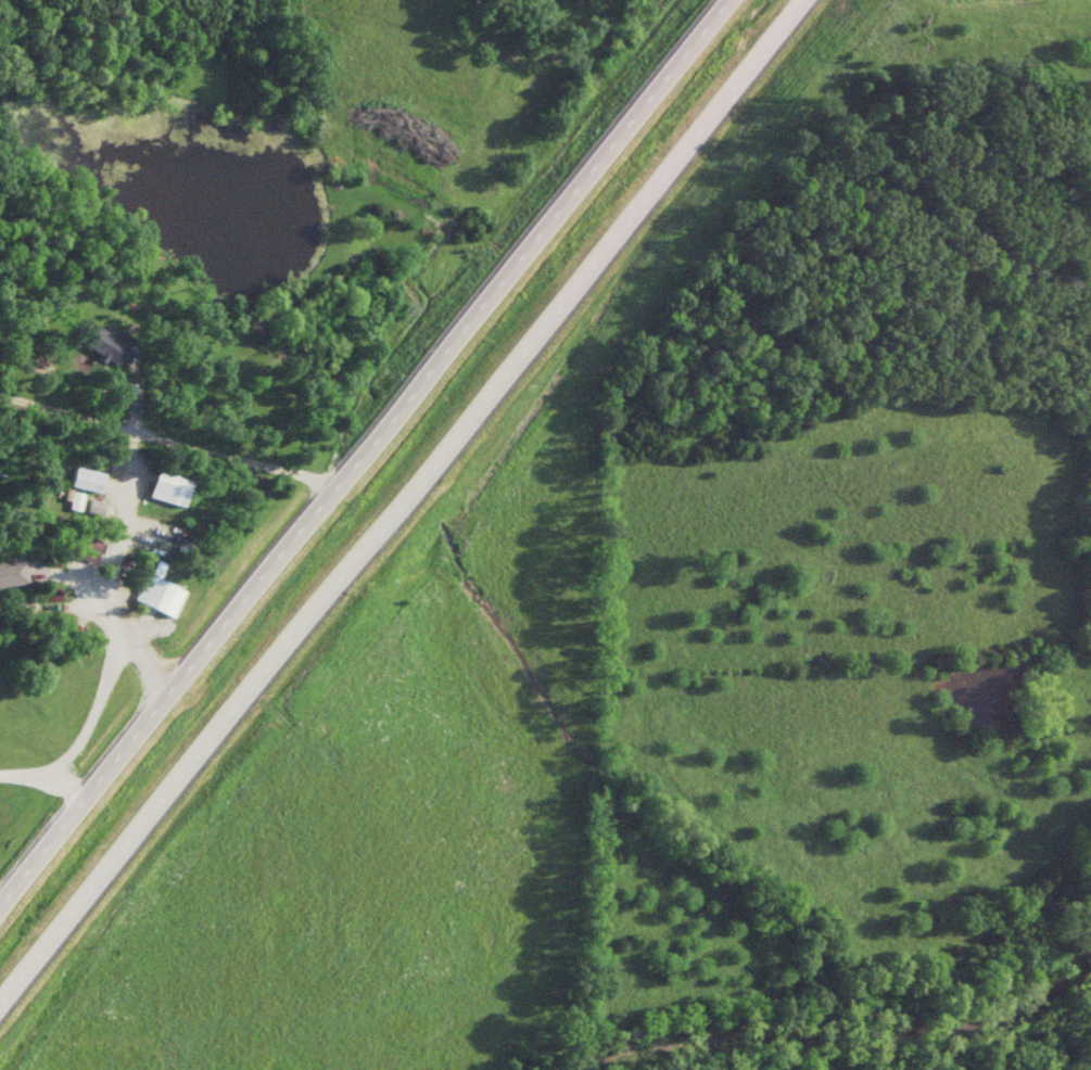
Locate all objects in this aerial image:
building: (106, 345)
road: (359, 444)
road: (403, 499)
building: (13, 573)
building: (161, 595)

